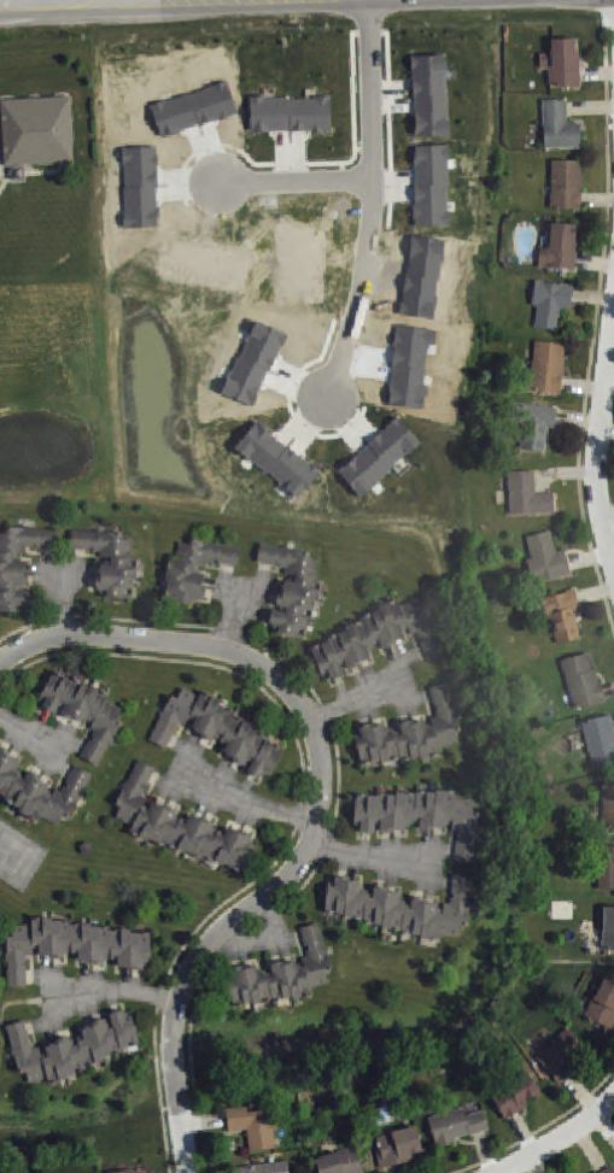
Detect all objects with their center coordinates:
road: (11, 0)
building: (563, 65)
building: (434, 99)
building: (293, 118)
building: (559, 125)
building: (35, 131)
road: (296, 180)
building: (566, 183)
road: (372, 201)
building: (560, 247)
building: (550, 305)
road: (593, 328)
building: (548, 366)
building: (532, 424)
road: (598, 444)
building: (382, 461)
building: (526, 494)
building: (546, 558)
building: (109, 559)
building: (18, 563)
building: (194, 568)
building: (292, 588)
road: (62, 604)
building: (563, 614)
road: (233, 621)
building: (375, 635)
building: (581, 680)
road: (358, 702)
building: (83, 711)
building: (217, 729)
road: (28, 731)
building: (411, 733)
building: (601, 741)
road: (322, 770)
building: (40, 791)
road: (246, 802)
building: (609, 808)
road: (299, 810)
building: (420, 815)
building: (177, 825)
park: (10, 852)
road: (369, 856)
building: (607, 869)
building: (400, 908)
building: (610, 931)
road: (265, 940)
building: (71, 945)
building: (282, 974)
road: (111, 990)
building: (604, 1007)
building: (71, 1048)
building: (559, 1055)
building: (513, 1095)
building: (455, 1125)
building: (252, 1127)
road: (538, 1128)
road: (559, 1137)
road: (183, 1143)
building: (398, 1146)
building: (339, 1162)
building: (264, 1167)
building: (608, 1169)
building: (124, 1171)
building: (135, 1172)

